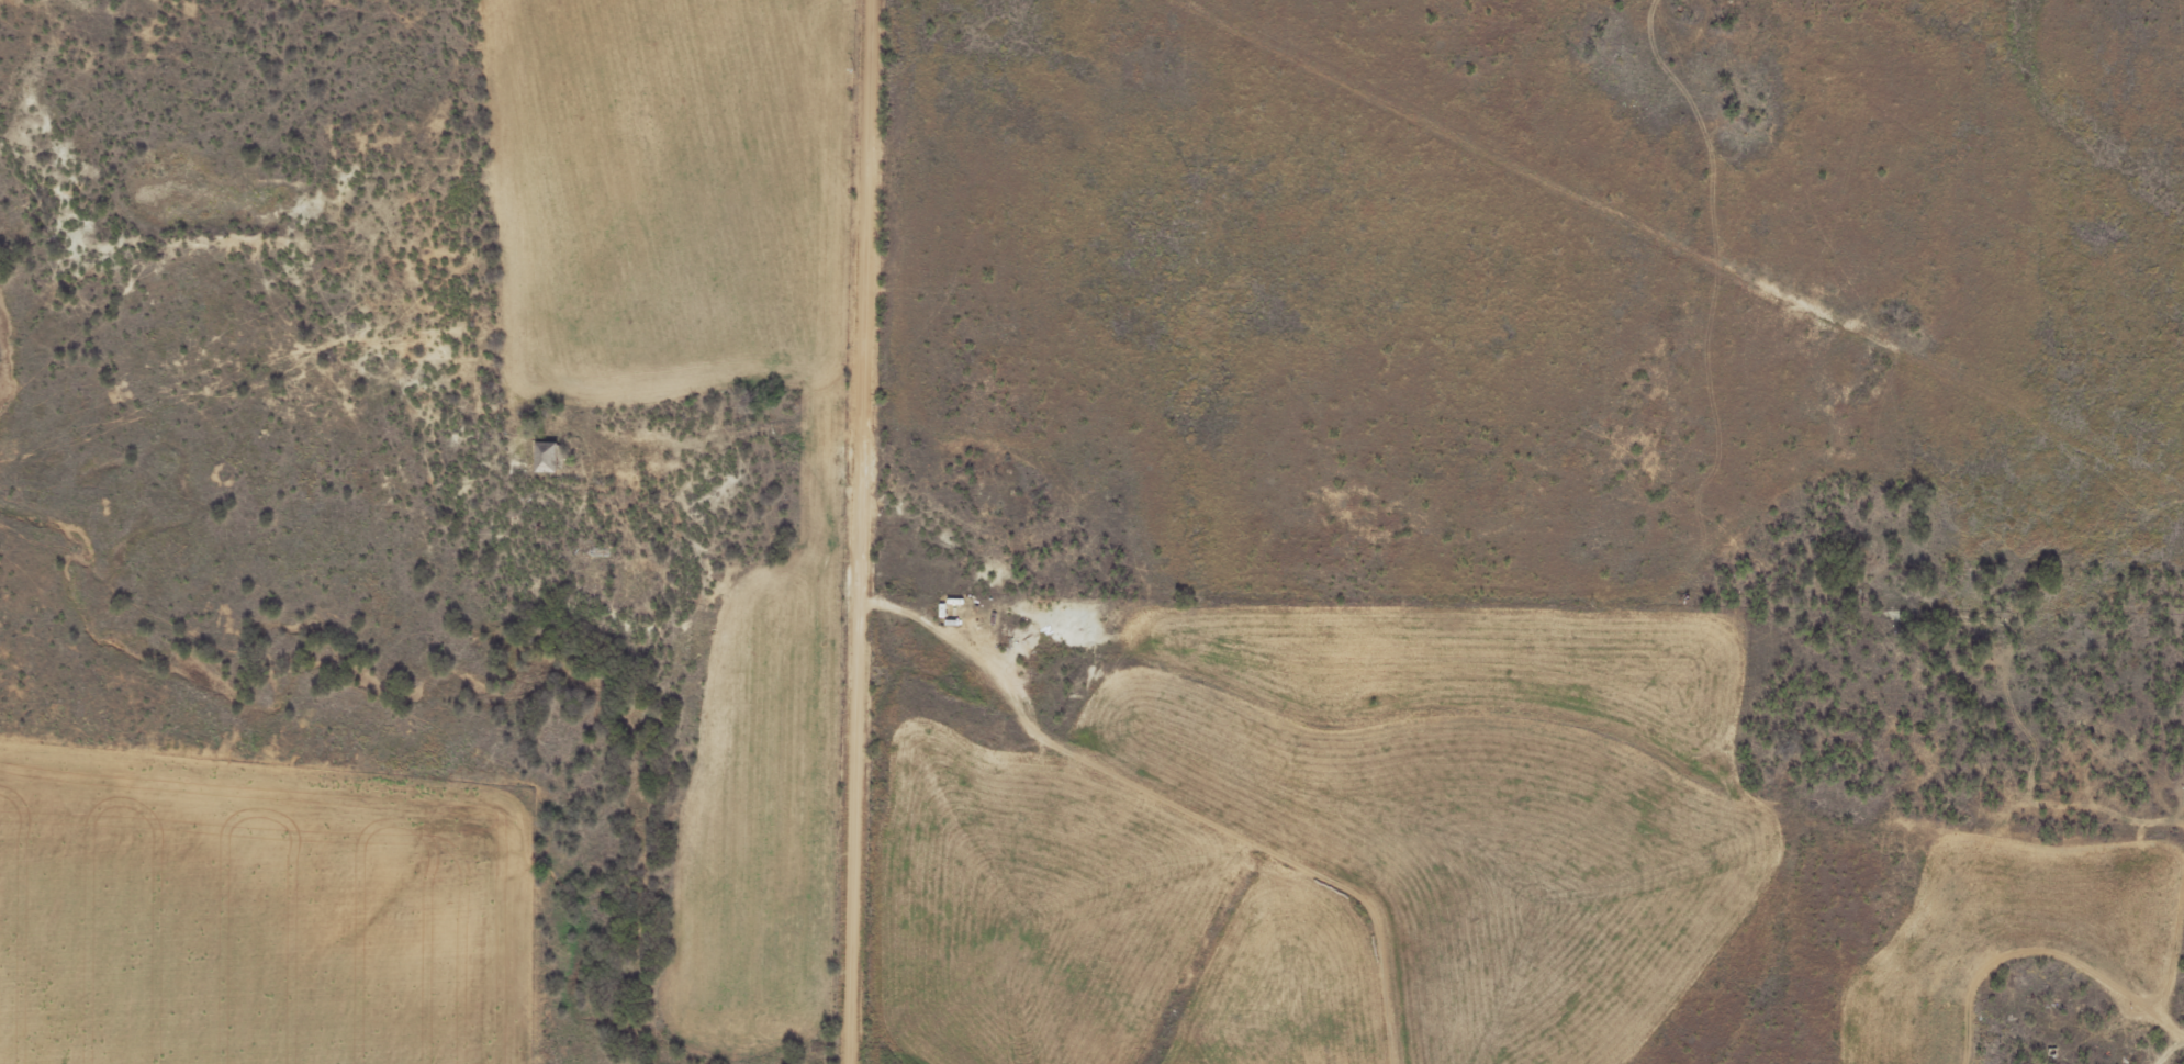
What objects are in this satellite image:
building: (540, 458)
road: (862, 531)
road: (2108, 1063)

